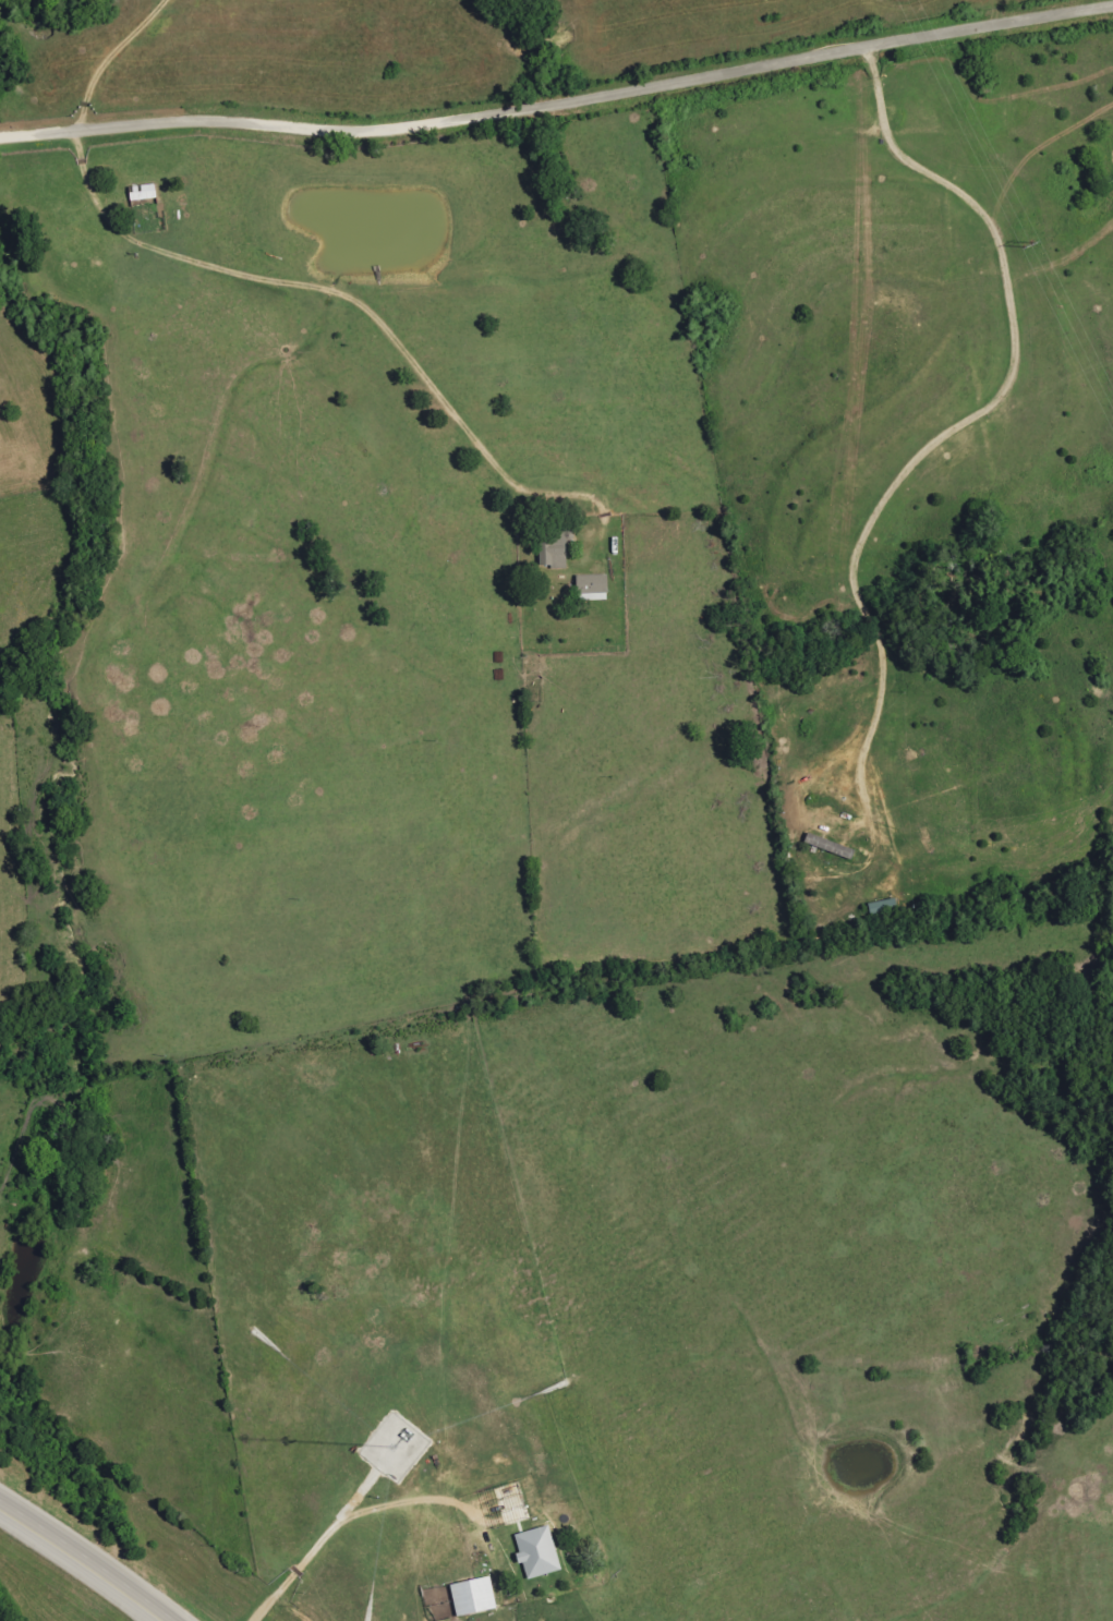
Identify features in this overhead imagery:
road: (106, 58)
road: (558, 102)
building: (144, 195)
power tower: (1026, 244)
road: (307, 281)
road: (972, 419)
building: (558, 559)
building: (593, 588)
building: (831, 847)
road: (322, 1536)
building: (539, 1552)
road: (81, 1559)
building: (474, 1598)
road: (149, 1618)

